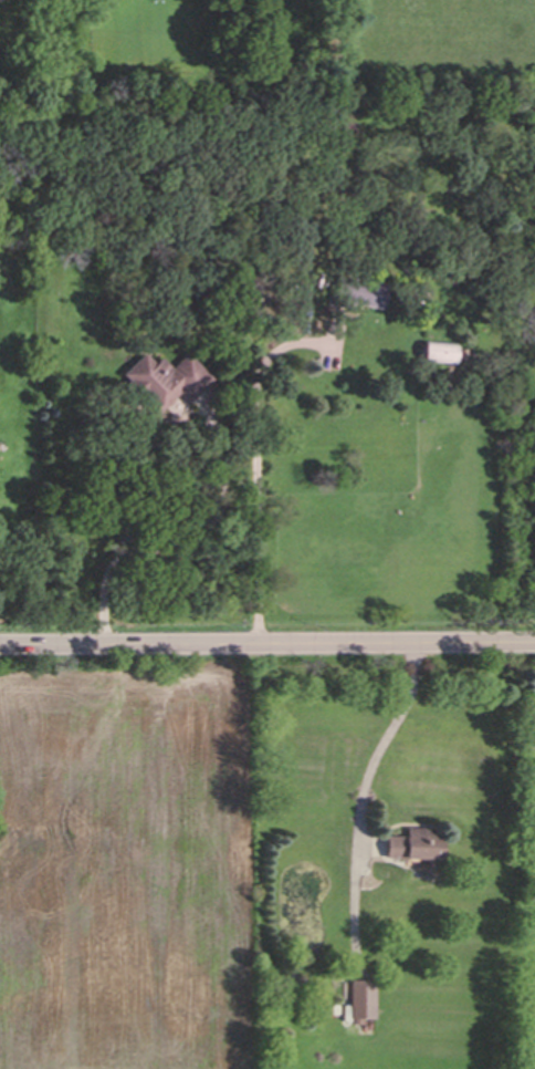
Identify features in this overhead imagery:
building: (353, 290)
building: (443, 355)
building: (164, 383)
road: (253, 465)
road: (267, 643)
road: (387, 735)
building: (418, 848)
crop: (130, 862)
building: (364, 997)

